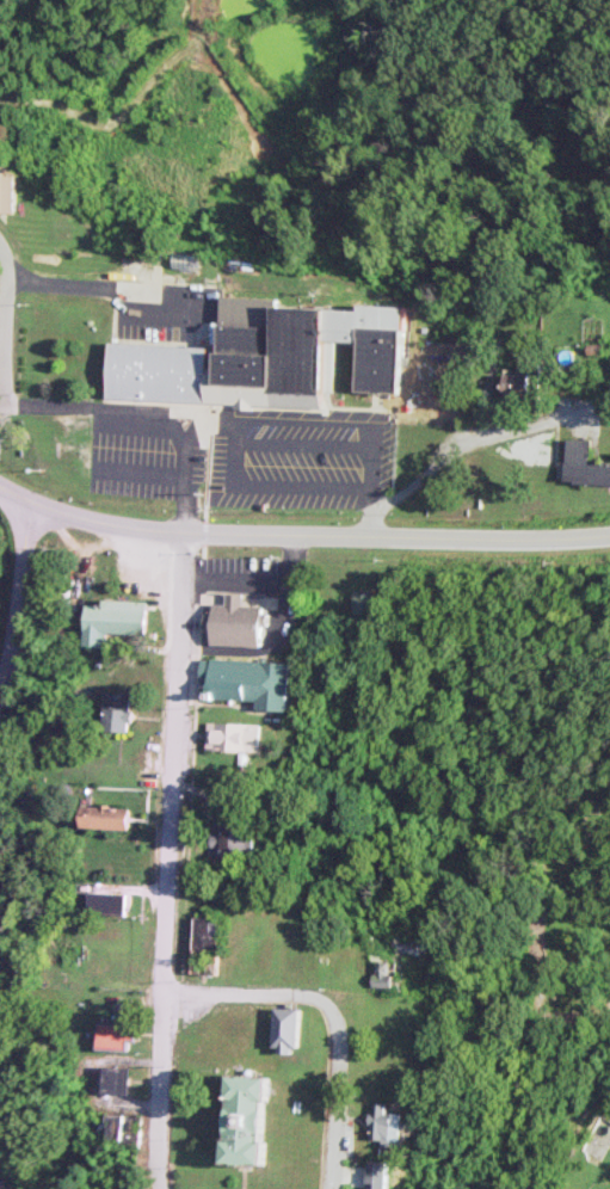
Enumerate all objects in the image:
building: (6, 193)
road: (94, 283)
road: (2, 327)
building: (260, 357)
building: (517, 386)
road: (140, 415)
road: (455, 452)
building: (584, 464)
road: (372, 470)
road: (265, 534)
road: (575, 536)
road: (17, 578)
building: (361, 604)
building: (111, 620)
building: (234, 623)
building: (247, 682)
building: (115, 713)
building: (228, 738)
building: (104, 815)
building: (230, 834)
road: (165, 862)
building: (105, 901)
building: (203, 943)
building: (384, 971)
road: (257, 998)
building: (284, 1028)
building: (113, 1034)
building: (115, 1078)
road: (337, 1109)
building: (245, 1117)
building: (383, 1125)
building: (122, 1128)
building: (594, 1136)
building: (376, 1173)

